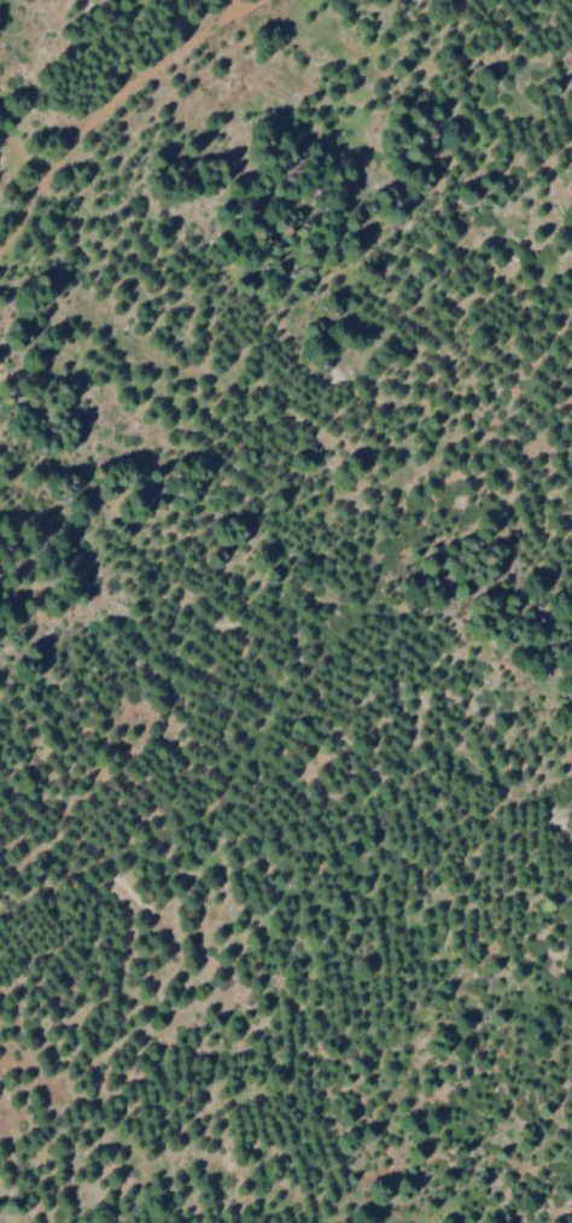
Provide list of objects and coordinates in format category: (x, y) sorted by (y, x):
road: (103, 105)

